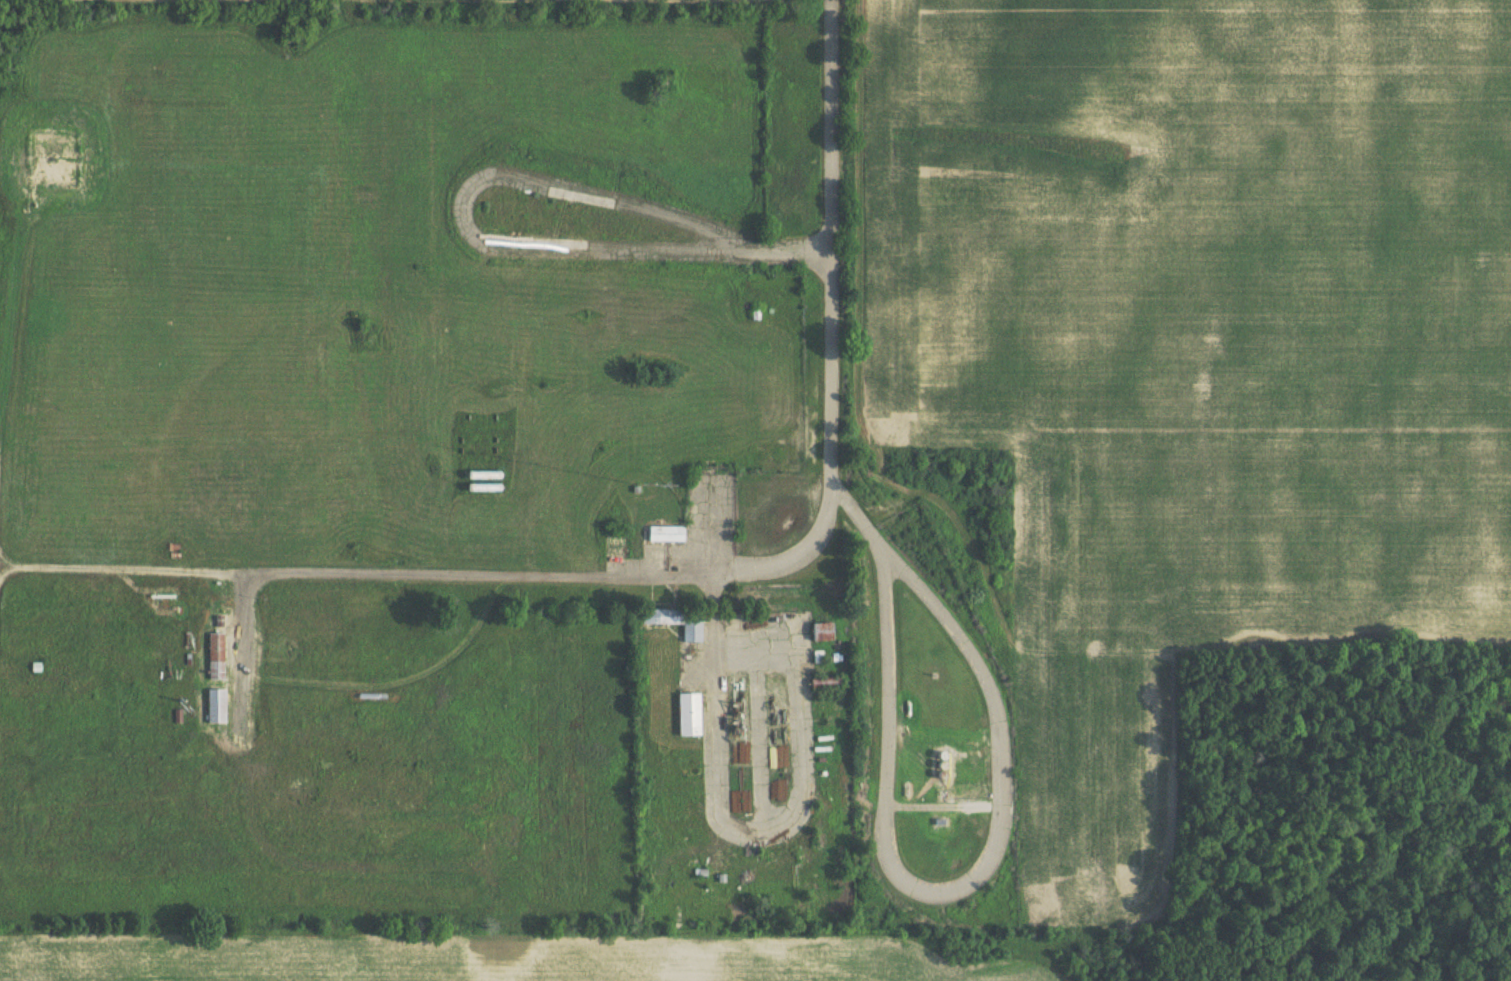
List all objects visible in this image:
road: (834, 246)
building: (664, 532)
road: (439, 571)
building: (675, 620)
building: (821, 630)
road: (243, 648)
building: (215, 655)
building: (824, 682)
building: (216, 705)
building: (688, 714)
road: (800, 777)
road: (984, 866)

